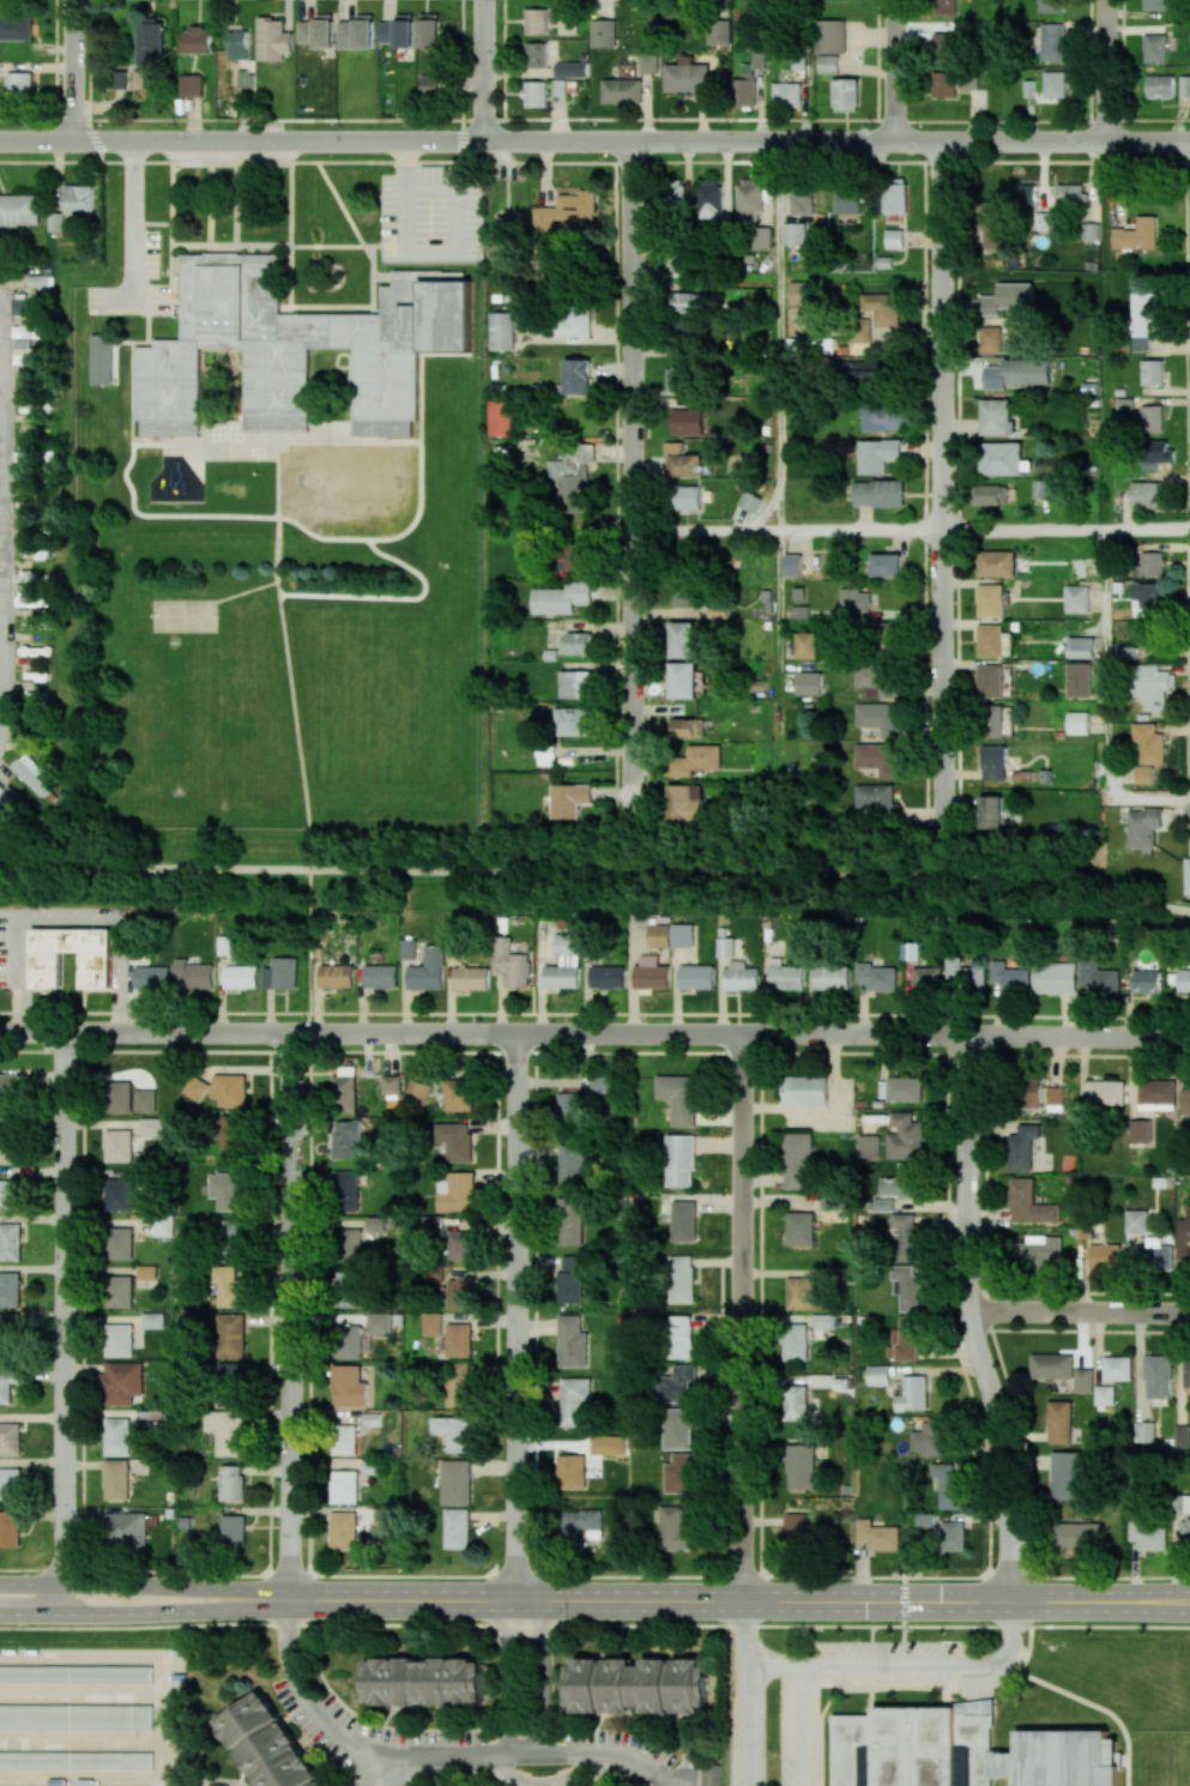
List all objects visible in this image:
building: (1155, 4)
building: (1050, 5)
building: (946, 6)
building: (536, 20)
building: (16, 28)
building: (429, 30)
building: (318, 31)
building: (398, 31)
building: (718, 31)
building: (356, 32)
building: (603, 32)
building: (830, 36)
building: (195, 40)
building: (273, 40)
building: (1052, 41)
building: (150, 43)
building: (237, 44)
building: (1155, 48)
building: (537, 55)
building: (650, 64)
building: (827, 64)
building: (572, 68)
road: (72, 70)
road: (482, 70)
road: (894, 71)
road: (1105, 71)
building: (0, 74)
building: (688, 77)
building: (119, 79)
building: (244, 79)
building: (747, 83)
building: (943, 84)
building: (1055, 84)
building: (19, 85)
building: (191, 85)
building: (433, 85)
building: (1160, 85)
building: (1185, 86)
building: (622, 91)
building: (536, 93)
building: (786, 93)
building: (845, 95)
road: (594, 140)
road: (405, 165)
building: (1022, 194)
building: (1070, 194)
building: (672, 195)
building: (895, 195)
building: (78, 199)
building: (749, 199)
building: (802, 200)
building: (848, 200)
building: (711, 201)
building: (566, 210)
building: (19, 211)
parking lot: (430, 216)
road: (132, 218)
building: (59, 222)
building: (990, 224)
building: (1089, 230)
building: (795, 233)
building: (1136, 235)
building: (763, 236)
building: (894, 237)
building: (506, 239)
road: (457, 253)
parking lot: (128, 276)
building: (798, 292)
road: (153, 296)
building: (1007, 298)
building: (693, 302)
building: (24, 306)
building: (882, 308)
building: (572, 321)
building: (1142, 321)
building: (684, 330)
building: (859, 330)
building: (29, 331)
building: (502, 331)
road: (778, 334)
building: (990, 338)
building: (809, 345)
building: (296, 346)
building: (23, 352)
building: (102, 358)
building: (863, 369)
building: (1020, 372)
building: (1152, 372)
building: (576, 376)
building: (679, 378)
building: (501, 416)
building: (883, 416)
building: (996, 417)
building: (1150, 418)
building: (687, 421)
building: (1155, 453)
building: (877, 454)
building: (999, 458)
building: (683, 460)
road: (632, 473)
road: (1186, 473)
building: (572, 476)
building: (1040, 488)
road: (942, 489)
building: (878, 493)
building: (992, 494)
building: (1146, 494)
building: (687, 497)
building: (749, 501)
road: (911, 529)
building: (576, 556)
building: (997, 563)
building: (1152, 563)
building: (792, 565)
building: (886, 565)
building: (682, 589)
building: (1148, 593)
building: (561, 598)
building: (1076, 598)
building: (854, 599)
building: (991, 599)
park: (183, 615)
building: (1149, 635)
building: (682, 639)
building: (991, 640)
building: (580, 642)
building: (1008, 644)
building: (805, 645)
building: (1081, 647)
road: (779, 653)
road: (286, 656)
building: (683, 680)
building: (877, 680)
building: (991, 680)
building: (1079, 680)
building: (809, 682)
building: (575, 683)
building: (1152, 684)
road: (1105, 699)
building: (880, 717)
building: (574, 720)
building: (998, 720)
building: (1077, 722)
building: (689, 728)
building: (1149, 743)
building: (876, 758)
building: (697, 760)
building: (992, 762)
building: (29, 773)
building: (1143, 774)
building: (5, 797)
building: (569, 800)
building: (876, 800)
building: (687, 802)
building: (991, 811)
road: (1188, 813)
building: (1143, 826)
road: (949, 855)
road: (597, 873)
building: (1188, 875)
road: (71, 923)
building: (658, 935)
building: (682, 935)
building: (726, 947)
building: (409, 948)
road: (308, 951)
building: (908, 951)
building: (511, 963)
building: (563, 963)
building: (96, 970)
building: (428, 970)
building: (194, 973)
building: (280, 973)
building: (651, 973)
building: (965, 975)
building: (240, 976)
building: (337, 976)
building: (381, 976)
building: (696, 976)
building: (741, 976)
building: (786, 976)
building: (876, 976)
building: (1097, 976)
building: (606, 977)
building: (833, 977)
building: (1009, 977)
building: (1055, 977)
building: (151, 978)
building: (471, 978)
building: (926, 978)
building: (1184, 979)
building: (1147, 981)
road: (594, 1033)
building: (600, 1082)
building: (391, 1085)
building: (900, 1088)
building: (221, 1090)
building: (343, 1090)
building: (805, 1090)
building: (418, 1091)
building: (1029, 1091)
building: (1105, 1092)
building: (8, 1093)
building: (458, 1096)
building: (119, 1097)
building: (679, 1097)
building: (1155, 1097)
building: (1055, 1098)
building: (1184, 1098)
building: (145, 1100)
building: (569, 1104)
building: (151, 1127)
building: (1138, 1130)
building: (906, 1135)
building: (231, 1138)
building: (344, 1138)
building: (454, 1140)
building: (8, 1144)
building: (119, 1145)
building: (868, 1146)
building: (1022, 1146)
building: (679, 1160)
building: (798, 1160)
building: (572, 1161)
building: (902, 1182)
building: (344, 1189)
building: (226, 1190)
building: (455, 1191)
building: (119, 1194)
building: (10, 1195)
building: (883, 1203)
building: (1029, 1203)
building: (684, 1220)
building: (1137, 1220)
building: (569, 1221)
building: (374, 1223)
building: (431, 1224)
building: (162, 1226)
building: (801, 1229)
building: (232, 1232)
building: (906, 1235)
building: (1183, 1237)
building: (10, 1241)
building: (120, 1243)
building: (346, 1244)
building: (459, 1245)
building: (1038, 1250)
building: (1154, 1255)
building: (1104, 1257)
building: (146, 1272)
building: (570, 1278)
building: (682, 1279)
building: (228, 1285)
building: (907, 1287)
building: (10, 1289)
building: (346, 1289)
building: (117, 1291)
building: (460, 1292)
building: (804, 1295)
road: (1079, 1309)
road: (290, 1315)
road: (517, 1316)
road: (742, 1316)
building: (152, 1320)
road: (969, 1320)
building: (822, 1321)
building: (377, 1322)
road: (65, 1323)
building: (231, 1335)
building: (8, 1337)
building: (677, 1337)
building: (119, 1339)
building: (904, 1339)
building: (458, 1340)
building: (344, 1341)
building: (570, 1341)
building: (795, 1341)
building: (1117, 1368)
building: (1052, 1369)
building: (1186, 1371)
building: (230, 1375)
building: (877, 1375)
building: (1158, 1376)
building: (1083, 1378)
building: (121, 1382)
building: (7, 1383)
building: (458, 1384)
building: (676, 1384)
building: (349, 1386)
building: (910, 1393)
building: (1104, 1394)
building: (574, 1401)
building: (795, 1402)
building: (1059, 1422)
building: (679, 1428)
building: (228, 1431)
building: (454, 1431)
building: (1143, 1431)
building: (1182, 1435)
building: (116, 1436)
building: (930, 1437)
building: (10, 1438)
building: (343, 1440)
building: (608, 1442)
building: (801, 1466)
building: (570, 1471)
building: (683, 1473)
building: (1067, 1474)
building: (116, 1479)
building: (457, 1482)
building: (10, 1483)
building: (231, 1483)
building: (949, 1485)
building: (343, 1486)
building: (1182, 1503)
building: (383, 1519)
building: (580, 1526)
building: (795, 1526)
building: (677, 1527)
building: (10, 1528)
building: (458, 1528)
building: (125, 1529)
building: (234, 1531)
building: (343, 1531)
building: (1184, 1531)
building: (878, 1534)
building: (1148, 1534)
building: (953, 1535)
building: (1075, 1535)
road: (145, 1585)
road: (650, 1599)
road: (902, 1601)
traffic signals: (902, 1601)
road: (1100, 1601)
road: (145, 1613)
road: (594, 1624)
road: (743, 1630)
parking lot: (898, 1655)
road: (774, 1665)
road: (931, 1667)
road: (537, 1672)
building: (77, 1673)
road: (506, 1673)
building: (422, 1681)
building: (635, 1684)
building: (75, 1715)
road: (749, 1722)
road: (801, 1727)
building: (268, 1744)
parking lot: (761, 1749)
building: (973, 1750)
road: (425, 1755)
building: (75, 1758)
road: (375, 1770)
building: (711, 1775)
building: (218, 1785)

